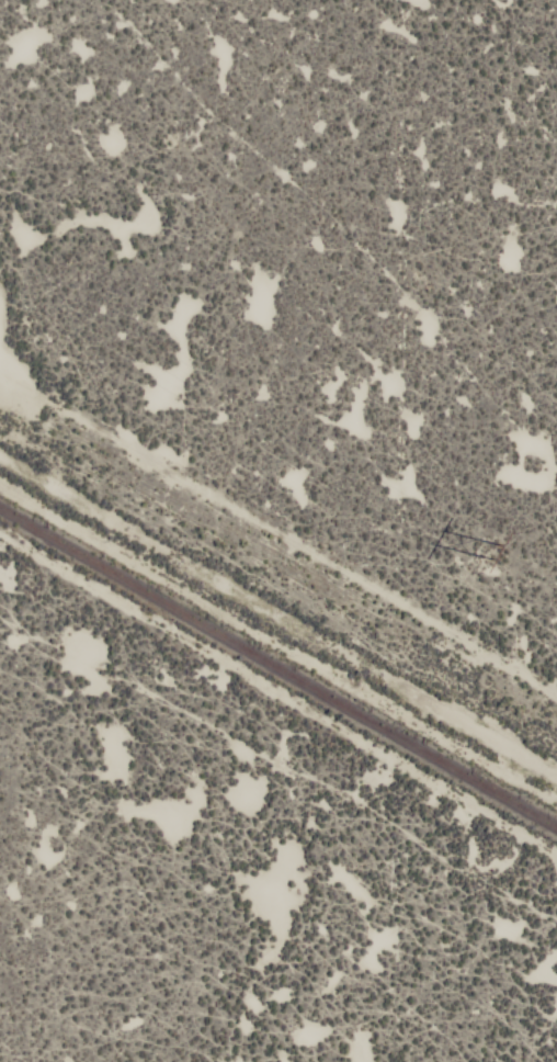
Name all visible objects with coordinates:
power tower: (491, 551)

